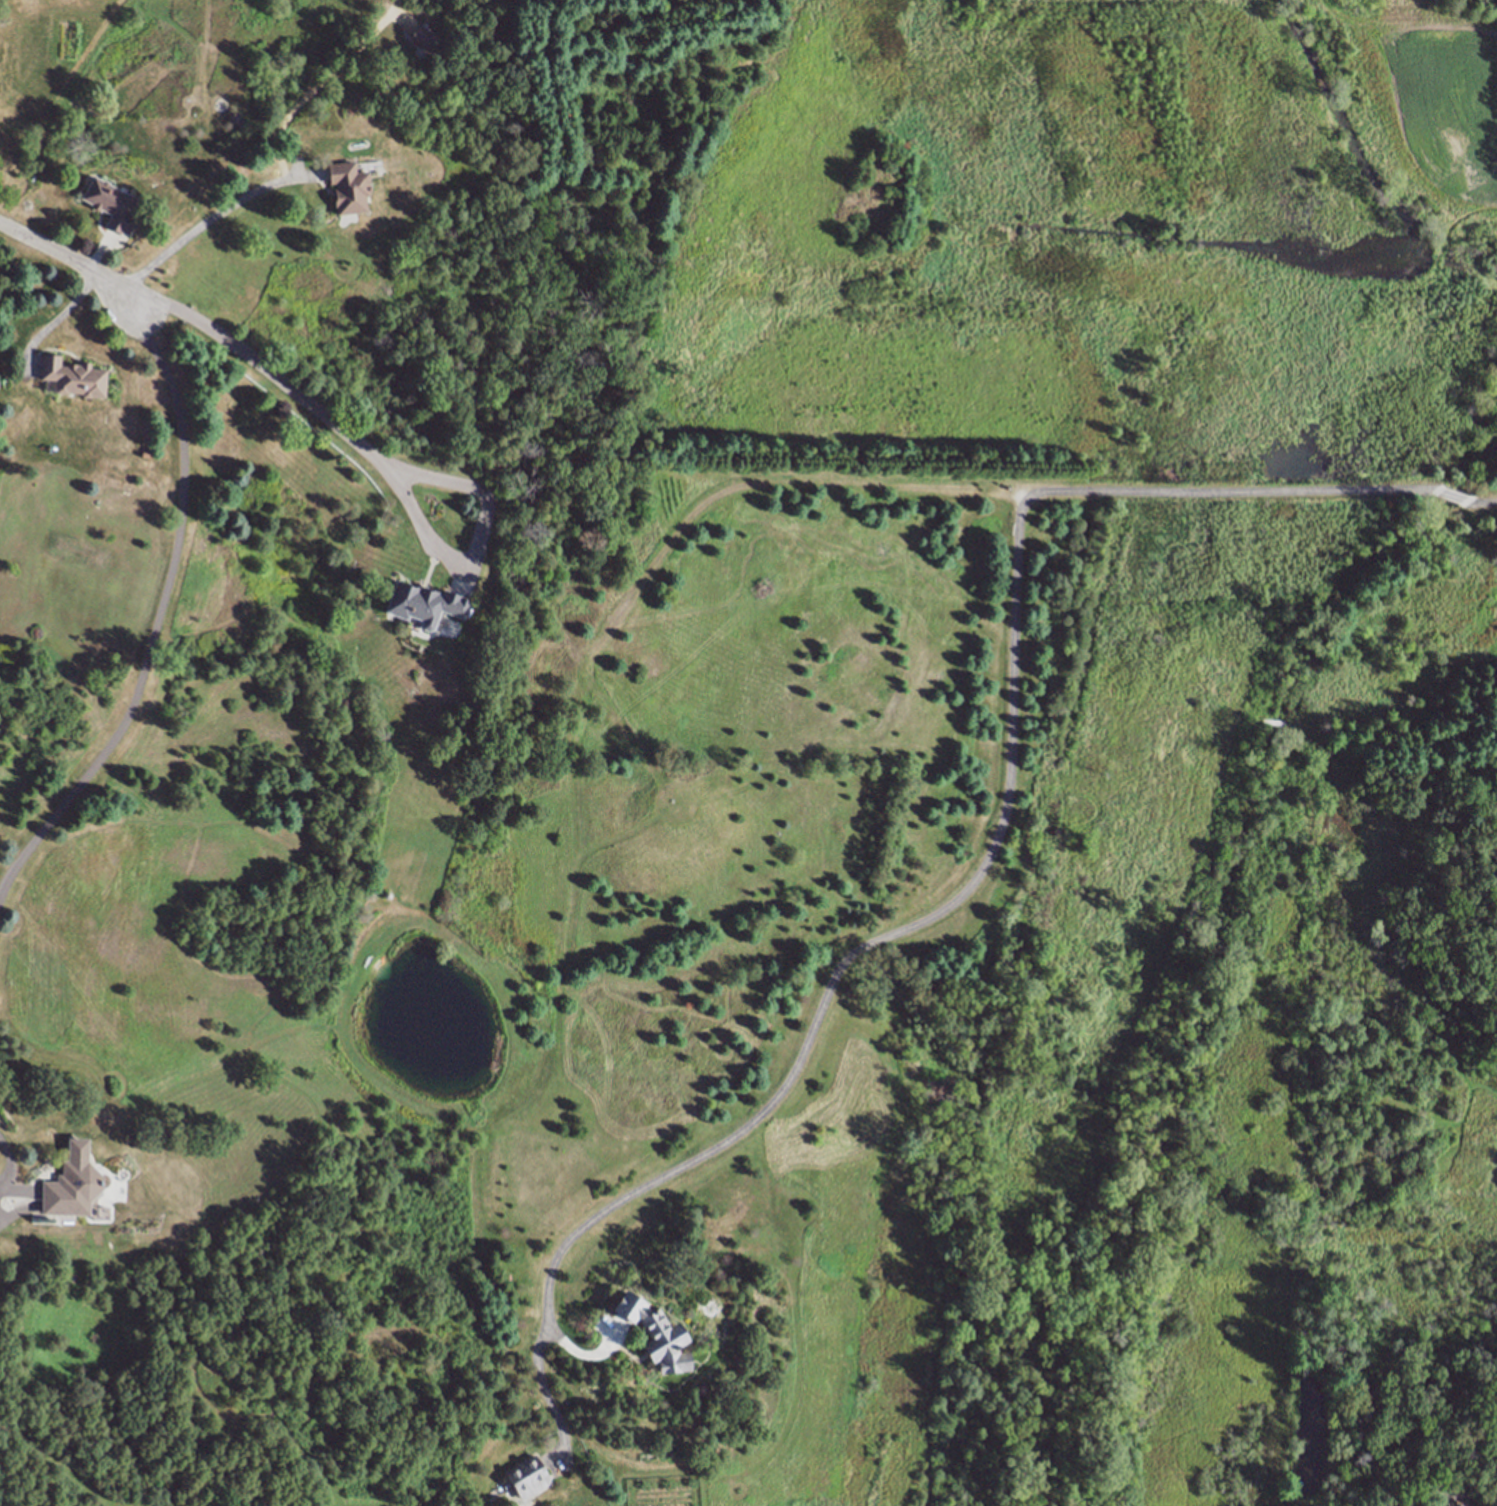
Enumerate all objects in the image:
building: (424, 38)
building: (237, 119)
road: (285, 169)
building: (348, 186)
building: (111, 203)
road: (62, 255)
road: (54, 320)
building: (73, 376)
road: (303, 398)
road: (1453, 497)
road: (1484, 502)
road: (156, 599)
building: (422, 603)
road: (983, 868)
building: (71, 1189)
building: (655, 1333)
building: (527, 1477)

